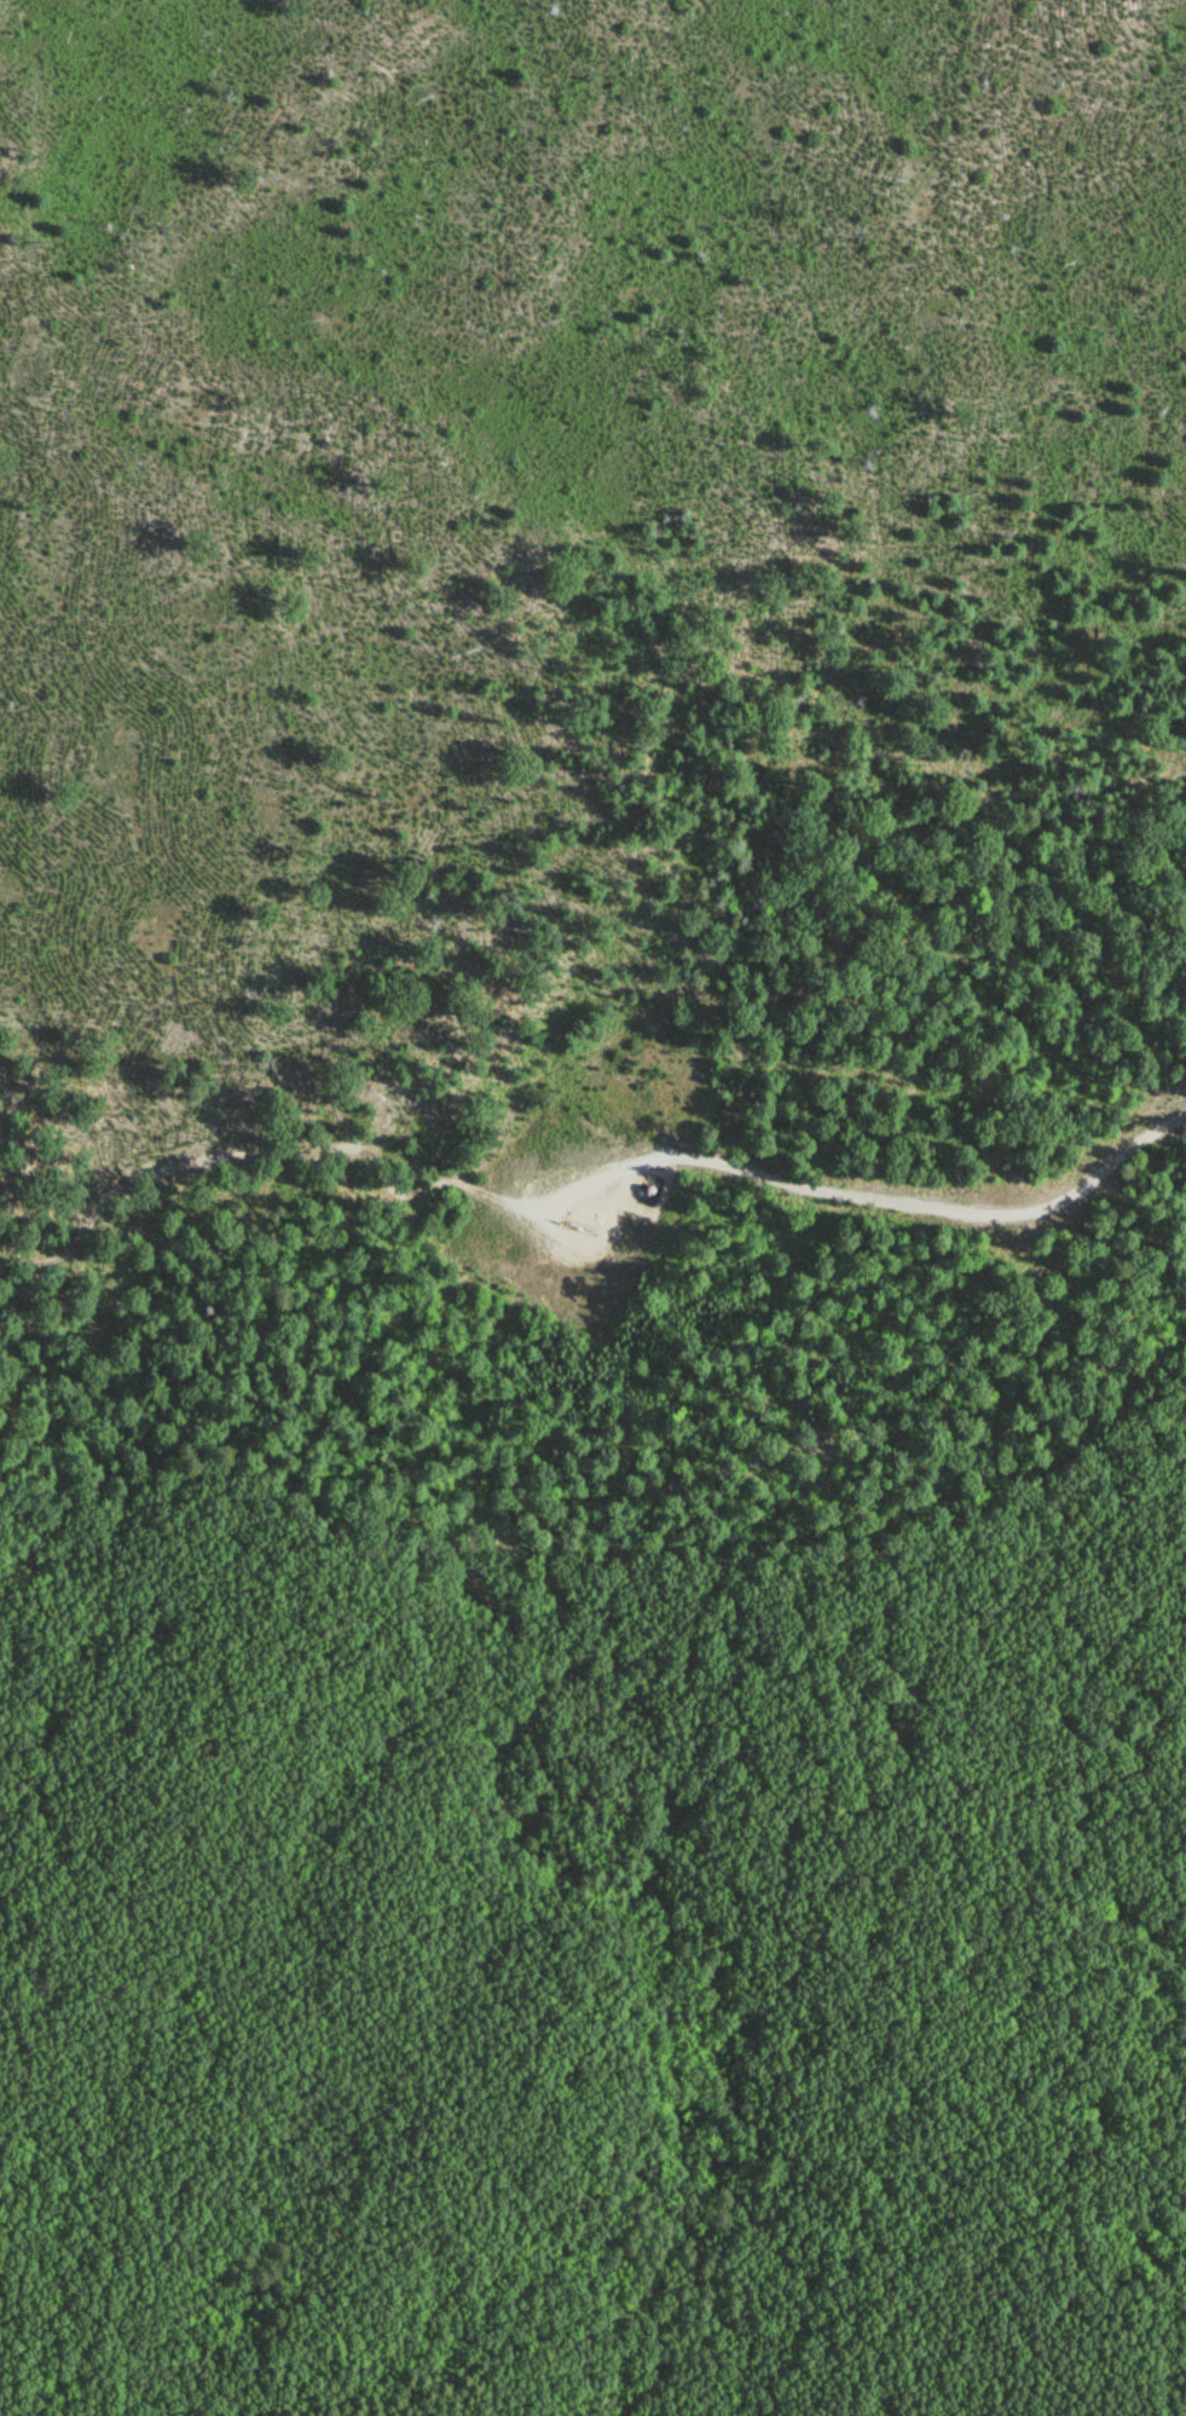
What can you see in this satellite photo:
road: (896, 1195)
petroleum well: (578, 1232)

